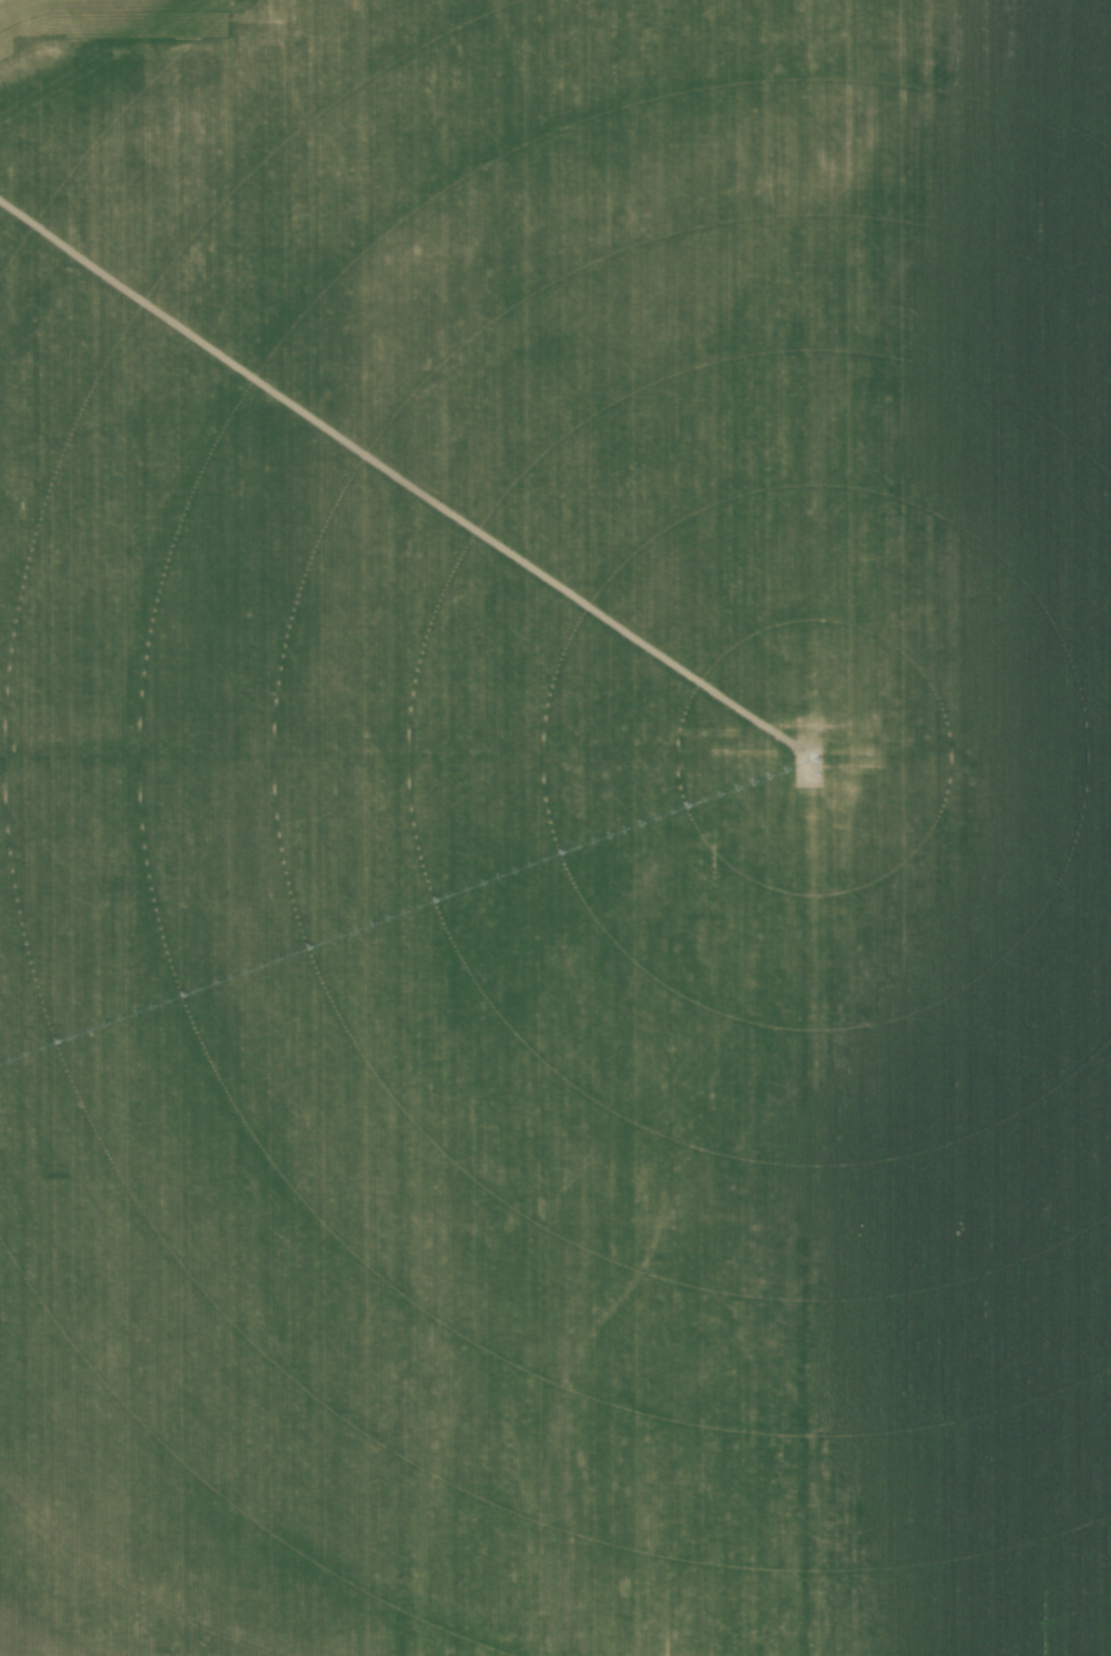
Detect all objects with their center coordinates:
crop: (555, 827)

